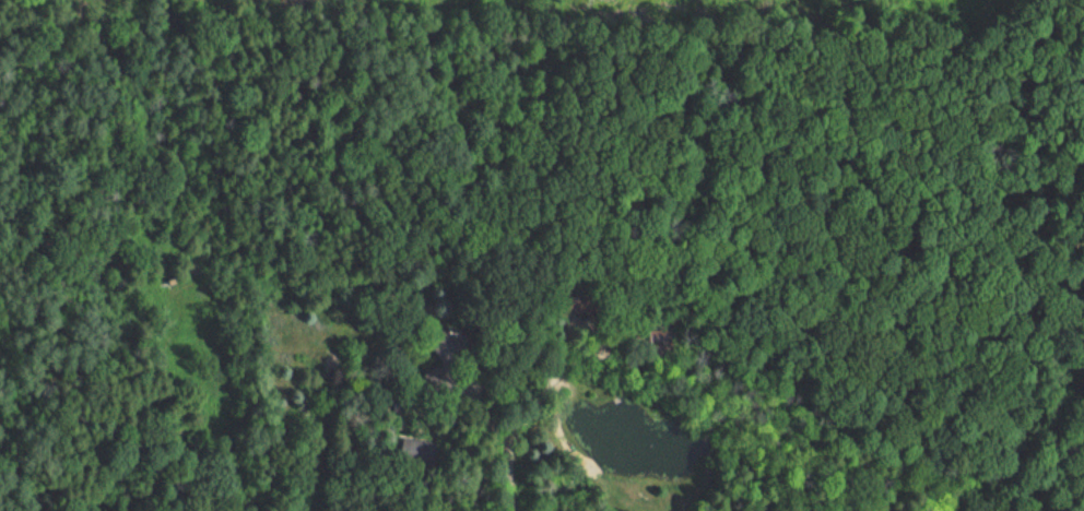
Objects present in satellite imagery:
road: (502, 433)

